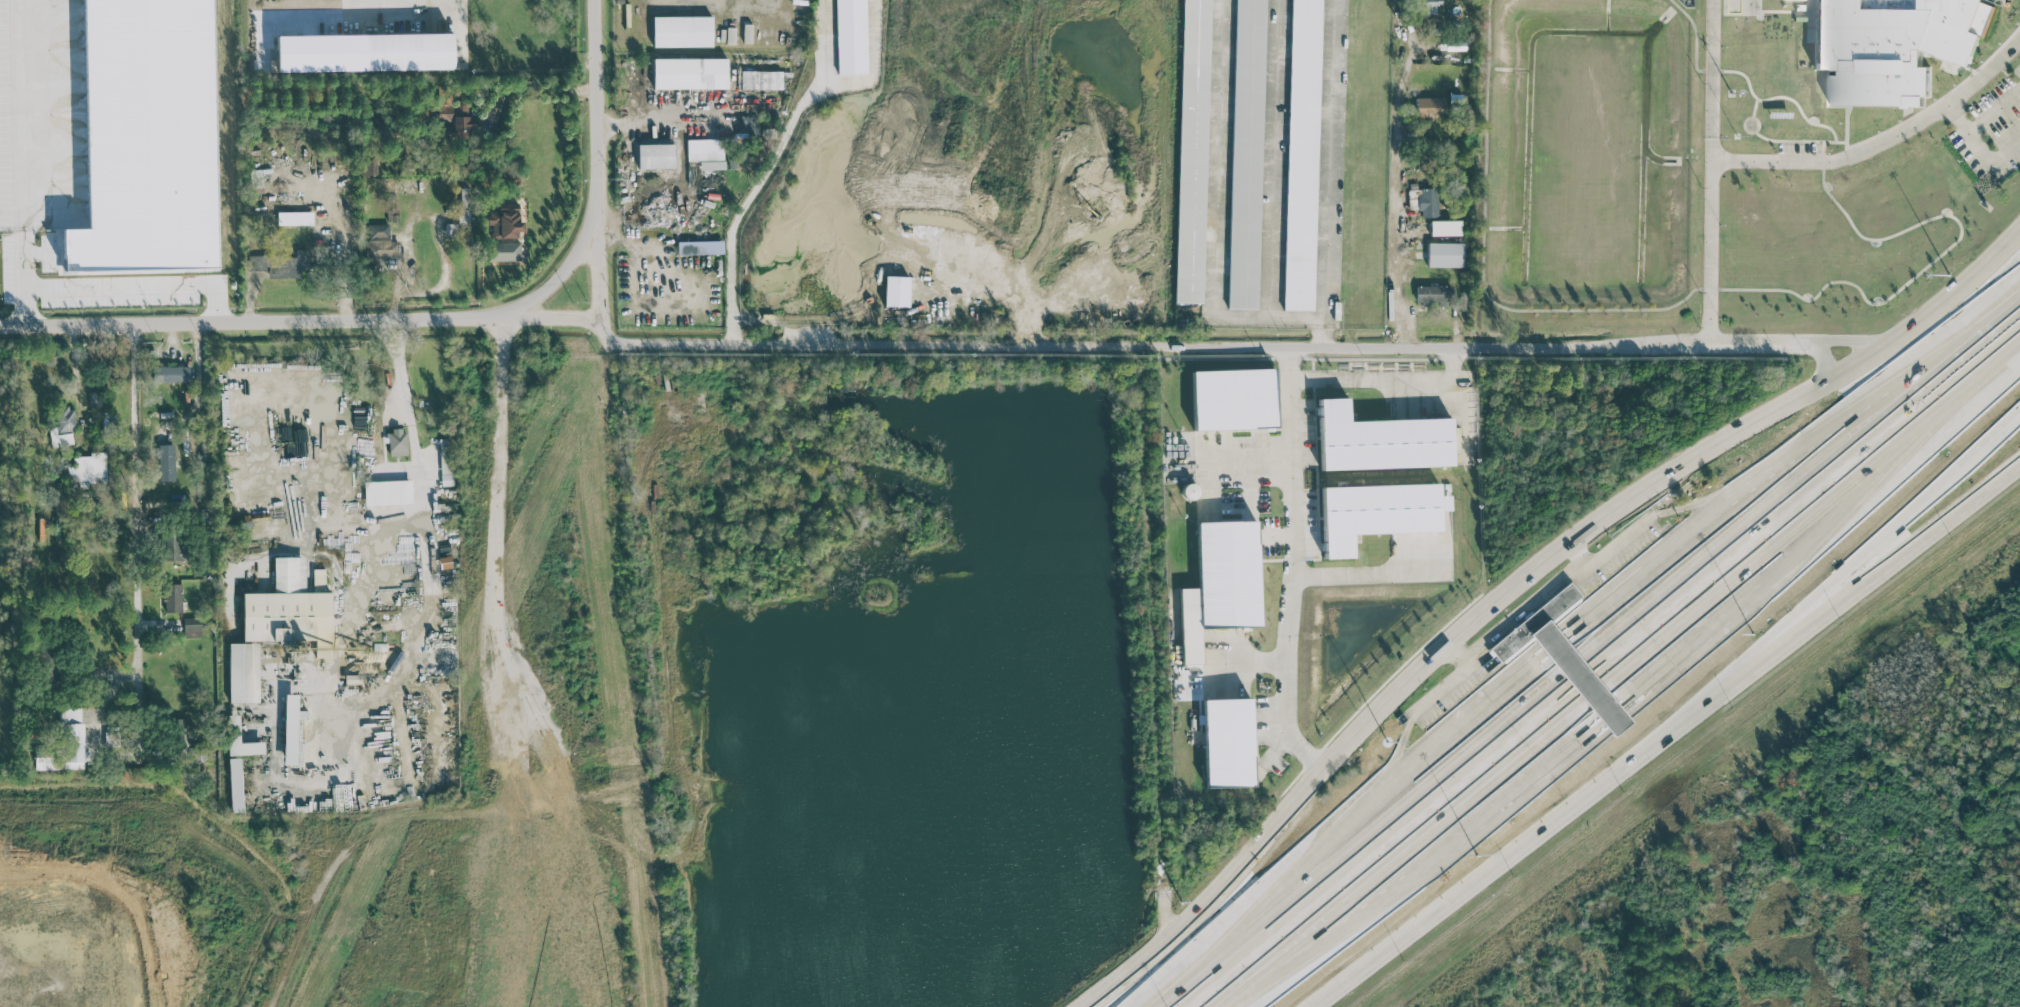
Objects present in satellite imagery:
building: (1430, 6)
road: (1783, 11)
road: (1437, 13)
building: (682, 31)
building: (748, 33)
road: (1695, 34)
building: (851, 36)
road: (826, 44)
building: (1891, 45)
building: (364, 51)
road: (1947, 59)
road: (873, 62)
road: (1712, 70)
building: (690, 73)
road: (530, 79)
building: (761, 79)
road: (1713, 79)
road: (1780, 96)
building: (1429, 106)
road: (1923, 108)
road: (1994, 110)
road: (23, 118)
building: (455, 118)
road: (1427, 121)
road: (1750, 125)
building: (748, 126)
parking lot: (1993, 129)
road: (1810, 140)
road: (1979, 144)
road: (1823, 147)
building: (1192, 151)
building: (706, 152)
building: (1246, 154)
building: (655, 155)
building: (1303, 155)
parking lot: (1800, 155)
road: (1794, 159)
road: (1823, 161)
road: (598, 165)
building: (368, 167)
road: (1327, 173)
road: (745, 201)
building: (1428, 202)
building: (463, 204)
road: (1402, 205)
building: (295, 218)
building: (505, 221)
building: (1444, 227)
building: (450, 229)
building: (380, 242)
building: (699, 247)
building: (504, 251)
building: (1445, 254)
road: (1482, 260)
road: (1928, 263)
building: (280, 264)
road: (560, 276)
road: (1709, 288)
road: (116, 290)
building: (896, 290)
building: (1435, 295)
road: (303, 323)
road: (1848, 339)
road: (1205, 345)
road: (1822, 359)
building: (170, 373)
road: (1385, 378)
road: (197, 385)
building: (96, 398)
building: (1233, 398)
road: (612, 408)
road: (654, 412)
building: (63, 426)
building: (1380, 440)
building: (397, 442)
road: (690, 449)
building: (166, 462)
building: (86, 467)
road: (732, 468)
road: (1247, 470)
road: (1795, 483)
road: (366, 485)
building: (387, 492)
road: (135, 501)
road: (504, 503)
building: (1377, 512)
road: (1892, 522)
road: (1812, 525)
building: (176, 546)
road: (364, 546)
road: (1580, 554)
road: (1288, 566)
road: (1357, 577)
building: (1220, 583)
road: (1525, 584)
building: (172, 597)
road: (1534, 602)
road: (441, 603)
building: (288, 608)
building: (1535, 625)
building: (192, 627)
road: (1568, 633)
road: (1150, 643)
toll booth: (1556, 644)
road: (1460, 649)
toll booth: (1576, 667)
building: (53, 668)
building: (243, 672)
road: (105, 694)
toll booth: (1603, 695)
road: (352, 726)
building: (233, 728)
building: (290, 729)
road: (521, 731)
road: (1665, 735)
building: (1227, 742)
building: (66, 744)
building: (235, 784)
road: (1372, 837)
road: (1408, 851)

